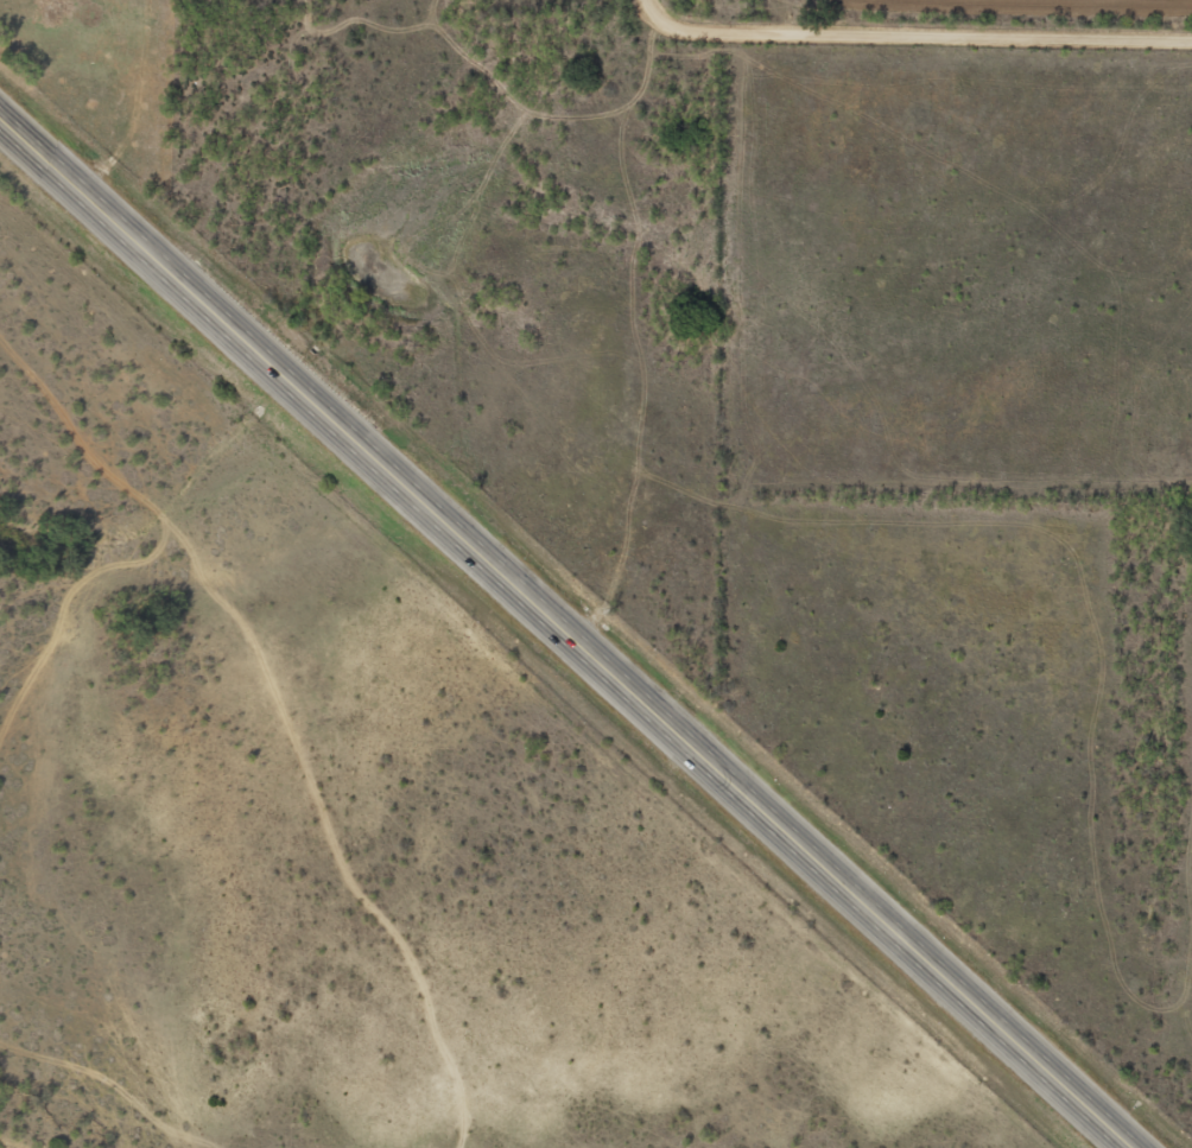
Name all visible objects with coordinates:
road: (949, 26)
road: (570, 636)

